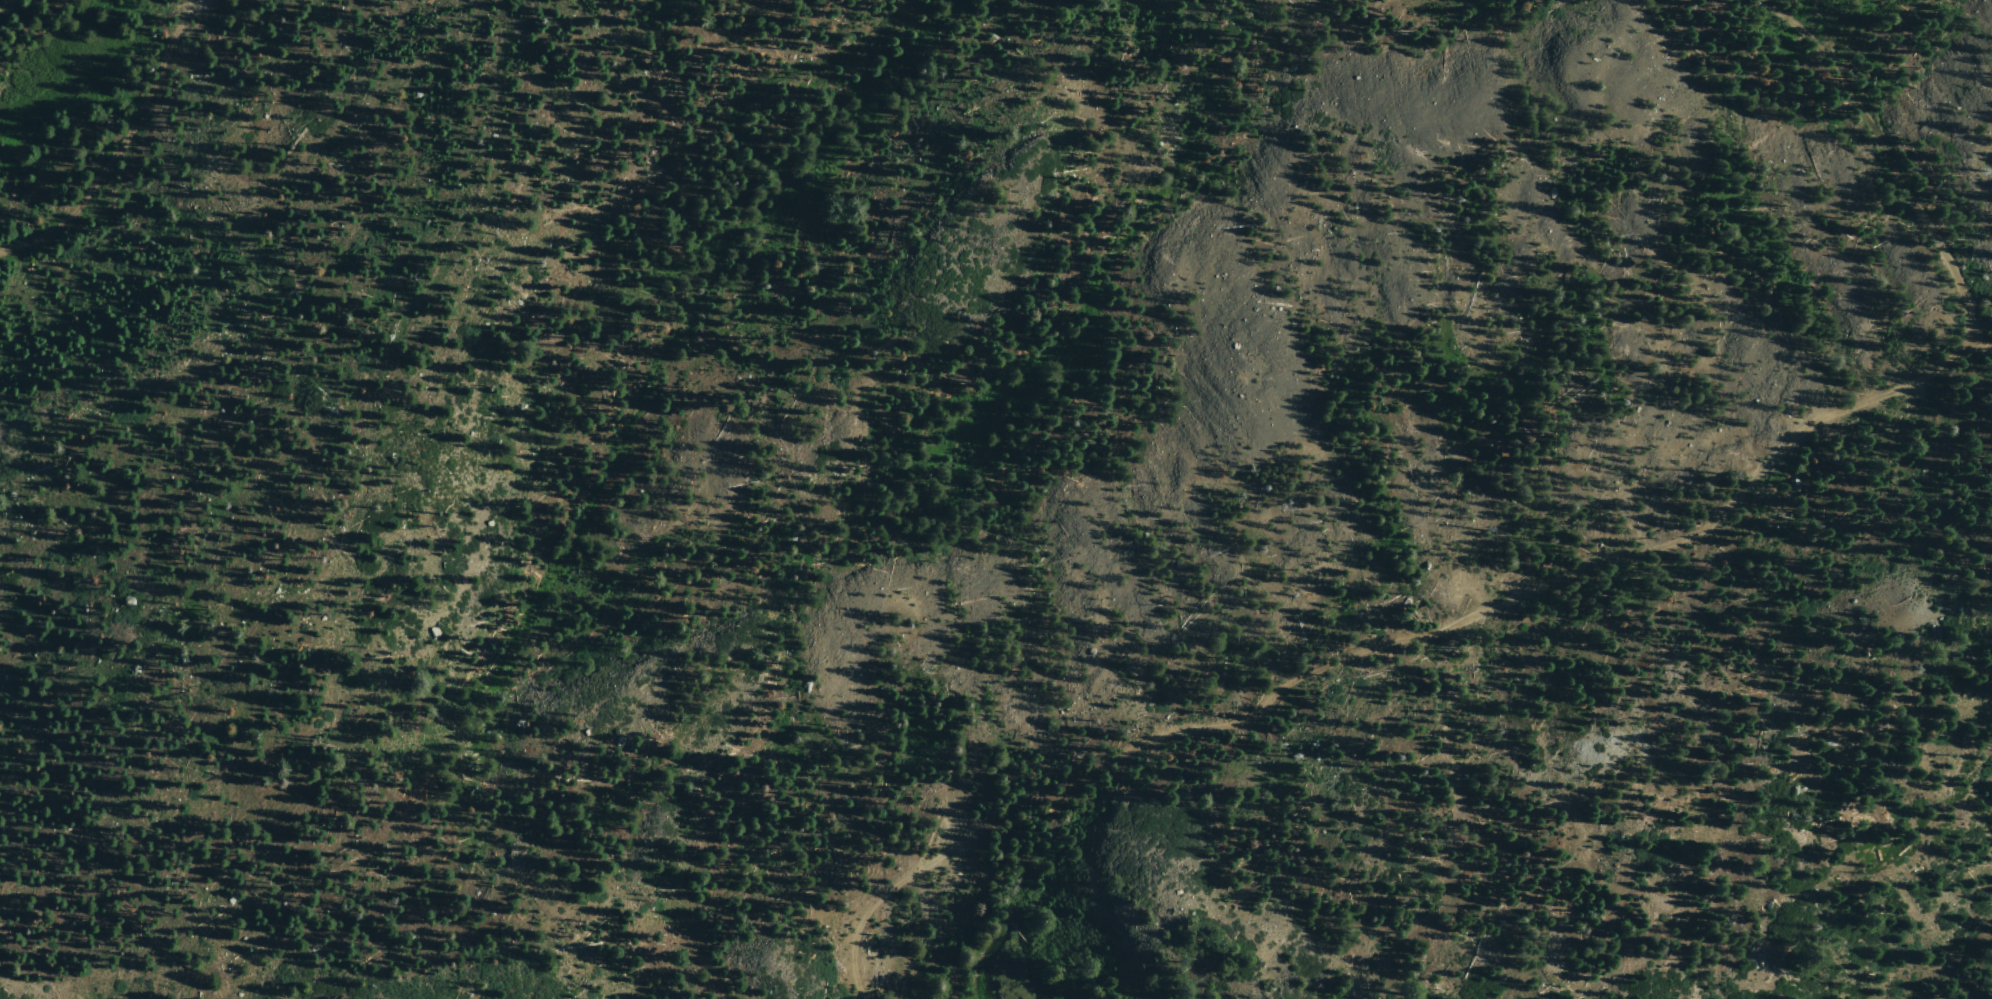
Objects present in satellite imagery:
road: (72, 99)

